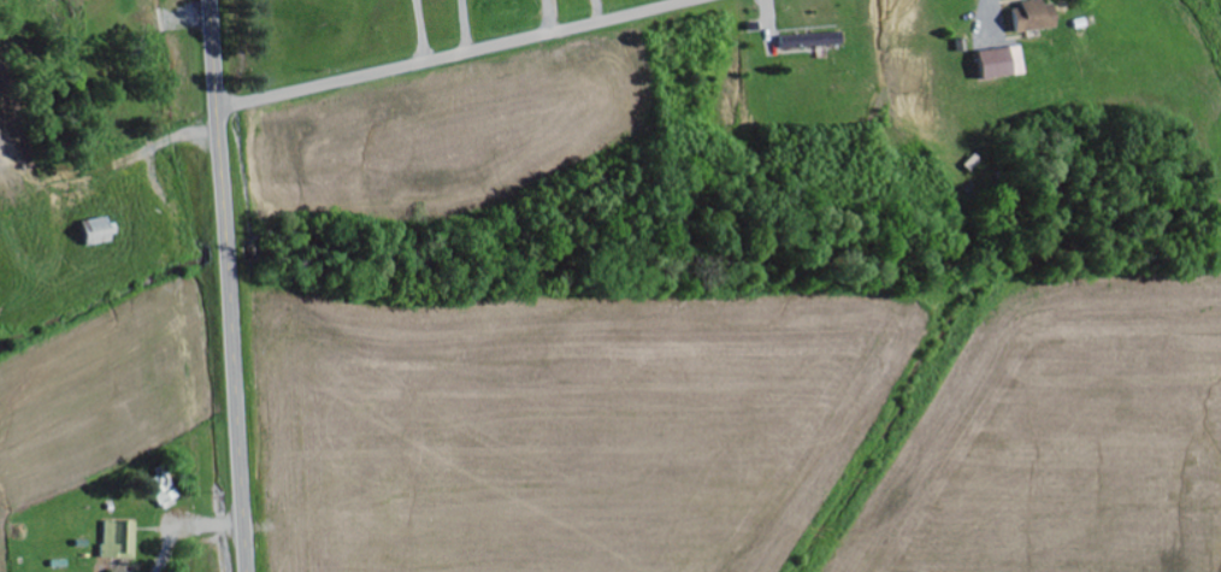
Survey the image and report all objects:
building: (1036, 18)
building: (809, 43)
road: (456, 57)
building: (1002, 65)
building: (100, 232)
road: (228, 285)
building: (165, 490)
building: (119, 539)

